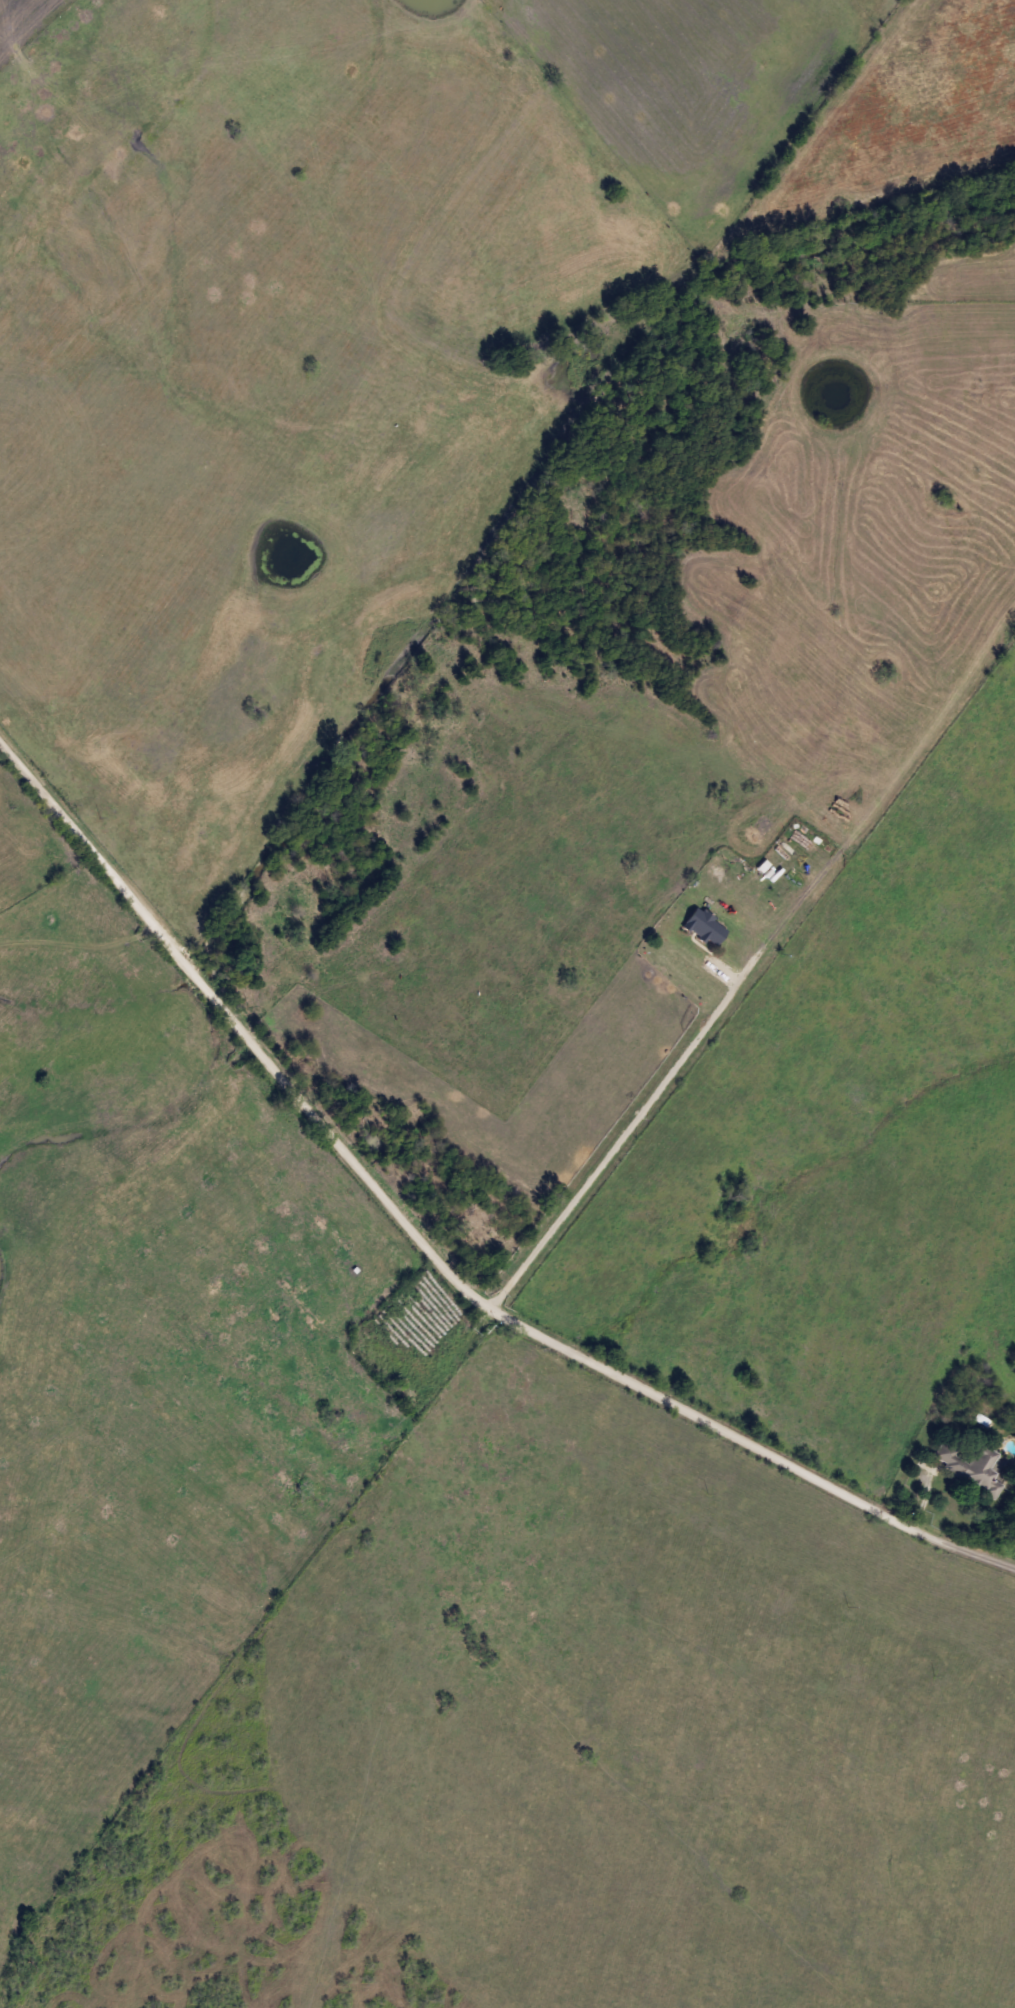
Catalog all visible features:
road: (33, 783)
road: (114, 878)
building: (704, 926)
road: (623, 1137)
road: (526, 1333)
building: (972, 1465)

